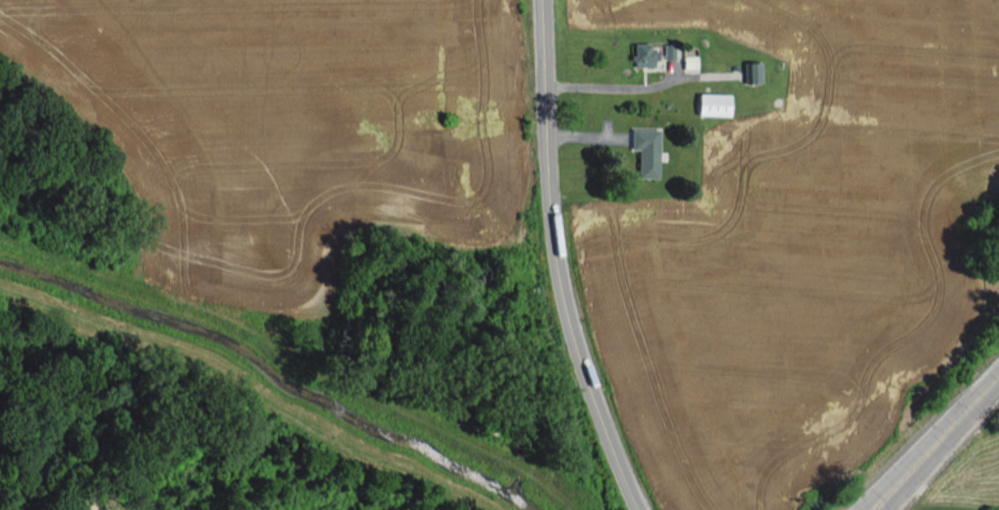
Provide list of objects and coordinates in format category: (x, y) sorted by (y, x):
building: (643, 55)
building: (754, 72)
building: (713, 104)
building: (646, 151)
road: (555, 261)
road: (935, 442)

